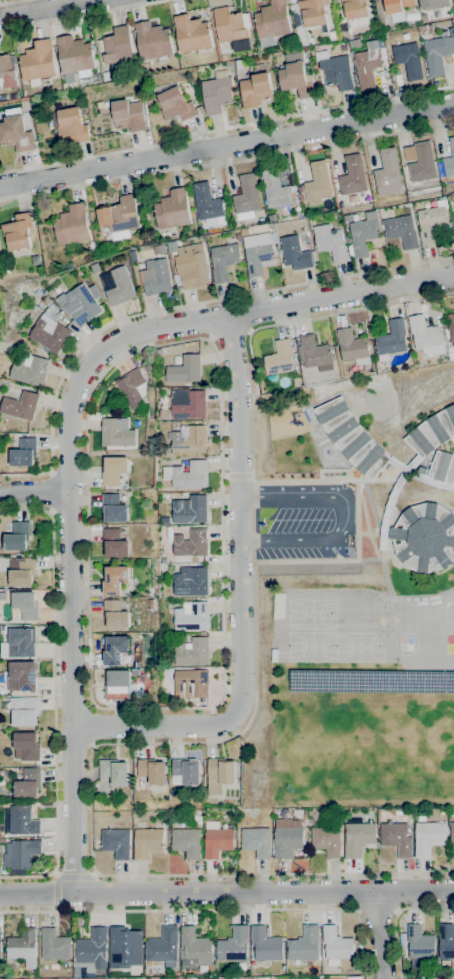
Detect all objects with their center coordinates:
road: (9, 1)
road: (157, 1)
building: (433, 4)
road: (106, 5)
building: (396, 5)
road: (49, 8)
building: (313, 12)
building: (356, 13)
road: (84, 15)
building: (422, 18)
building: (296, 20)
building: (271, 22)
building: (453, 24)
building: (229, 25)
building: (192, 34)
building: (331, 35)
building: (405, 36)
building: (153, 41)
building: (356, 43)
building: (118, 45)
building: (382, 53)
building: (75, 54)
building: (437, 54)
building: (408, 60)
building: (38, 61)
building: (237, 63)
building: (229, 64)
building: (366, 65)
building: (335, 70)
building: (7, 72)
building: (296, 76)
building: (255, 90)
building: (216, 94)
building: (175, 105)
building: (128, 115)
building: (69, 124)
road: (226, 128)
building: (16, 134)
road: (227, 145)
building: (449, 160)
road: (227, 162)
building: (422, 163)
building: (388, 173)
building: (353, 176)
building: (318, 183)
building: (275, 189)
building: (247, 197)
building: (207, 204)
building: (453, 207)
building: (172, 209)
building: (119, 217)
building: (272, 217)
building: (355, 217)
building: (261, 220)
building: (431, 224)
building: (71, 225)
building: (401, 231)
building: (18, 232)
building: (363, 234)
building: (237, 236)
building: (330, 242)
building: (257, 253)
building: (294, 253)
building: (36, 260)
building: (223, 261)
building: (191, 266)
building: (95, 267)
building: (5, 269)
building: (157, 277)
building: (117, 285)
building: (94, 292)
building: (46, 300)
building: (81, 304)
road: (174, 308)
building: (451, 332)
building: (50, 333)
road: (229, 335)
building: (426, 336)
building: (391, 339)
building: (353, 347)
building: (450, 349)
building: (315, 353)
building: (279, 358)
building: (148, 368)
building: (29, 369)
building: (184, 369)
building: (272, 378)
building: (297, 381)
building: (133, 387)
building: (187, 403)
building: (21, 405)
building: (165, 413)
building: (117, 432)
building: (432, 432)
road: (68, 437)
building: (351, 438)
building: (188, 439)
building: (163, 449)
building: (23, 452)
building: (443, 467)
building: (114, 469)
building: (423, 471)
building: (187, 474)
road: (321, 488)
road: (34, 492)
road: (49, 492)
building: (113, 508)
building: (189, 509)
road: (337, 517)
parking lot: (306, 521)
building: (17, 536)
building: (424, 537)
building: (114, 543)
building: (191, 543)
building: (162, 566)
building: (21, 571)
building: (115, 579)
building: (191, 582)
building: (4, 596)
road: (240, 597)
building: (151, 603)
building: (25, 605)
building: (279, 606)
building: (115, 614)
building: (191, 616)
building: (19, 643)
building: (116, 649)
building: (191, 651)
building: (274, 655)
building: (22, 676)
building: (1, 677)
building: (191, 683)
building: (117, 684)
road: (54, 694)
road: (103, 708)
building: (24, 710)
road: (93, 726)
road: (229, 735)
building: (26, 746)
building: (114, 771)
building: (152, 771)
building: (186, 771)
building: (220, 775)
building: (27, 783)
building: (452, 811)
building: (297, 813)
building: (421, 817)
building: (197, 819)
building: (19, 820)
building: (452, 832)
building: (288, 837)
building: (358, 837)
building: (429, 837)
building: (396, 838)
building: (217, 839)
building: (327, 840)
building: (2, 841)
building: (256, 841)
building: (115, 842)
building: (147, 842)
building: (186, 842)
building: (20, 853)
road: (74, 876)
road: (57, 891)
road: (227, 893)
road: (211, 910)
road: (375, 912)
road: (396, 916)
road: (378, 935)
building: (446, 940)
building: (420, 942)
building: (0, 943)
building: (266, 944)
building: (304, 944)
building: (55, 945)
building: (234, 945)
building: (336, 946)
building: (24, 947)
building: (125, 947)
building: (163, 947)
building: (194, 949)
building: (92, 950)
building: (78, 972)
building: (321, 977)

